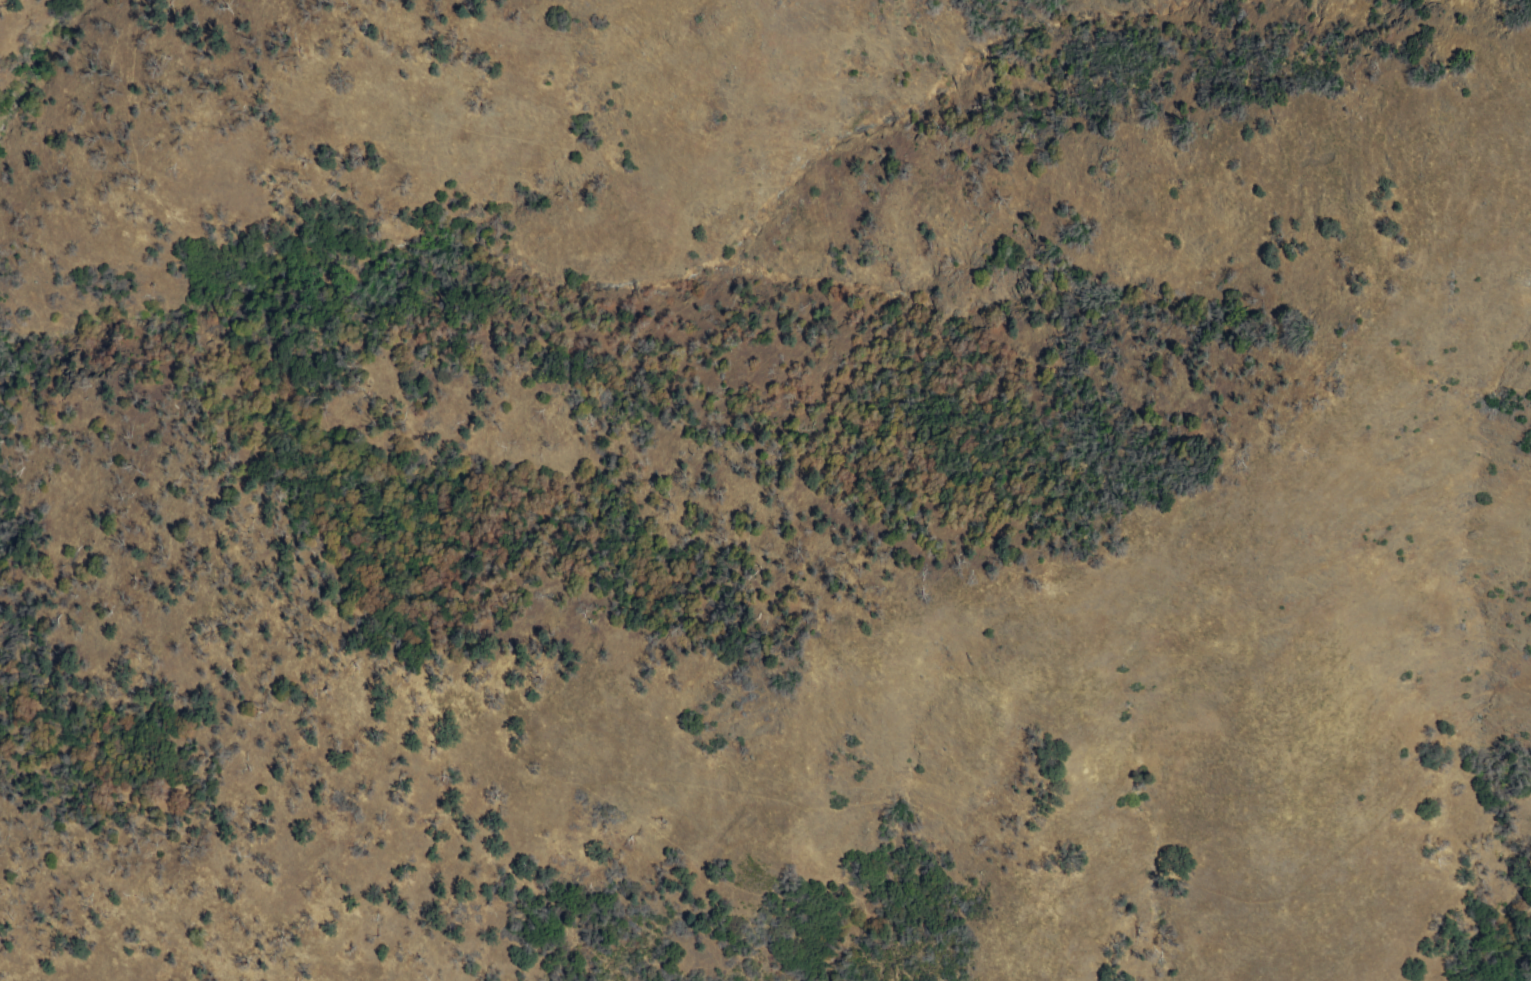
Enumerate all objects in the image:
road: (649, 734)

